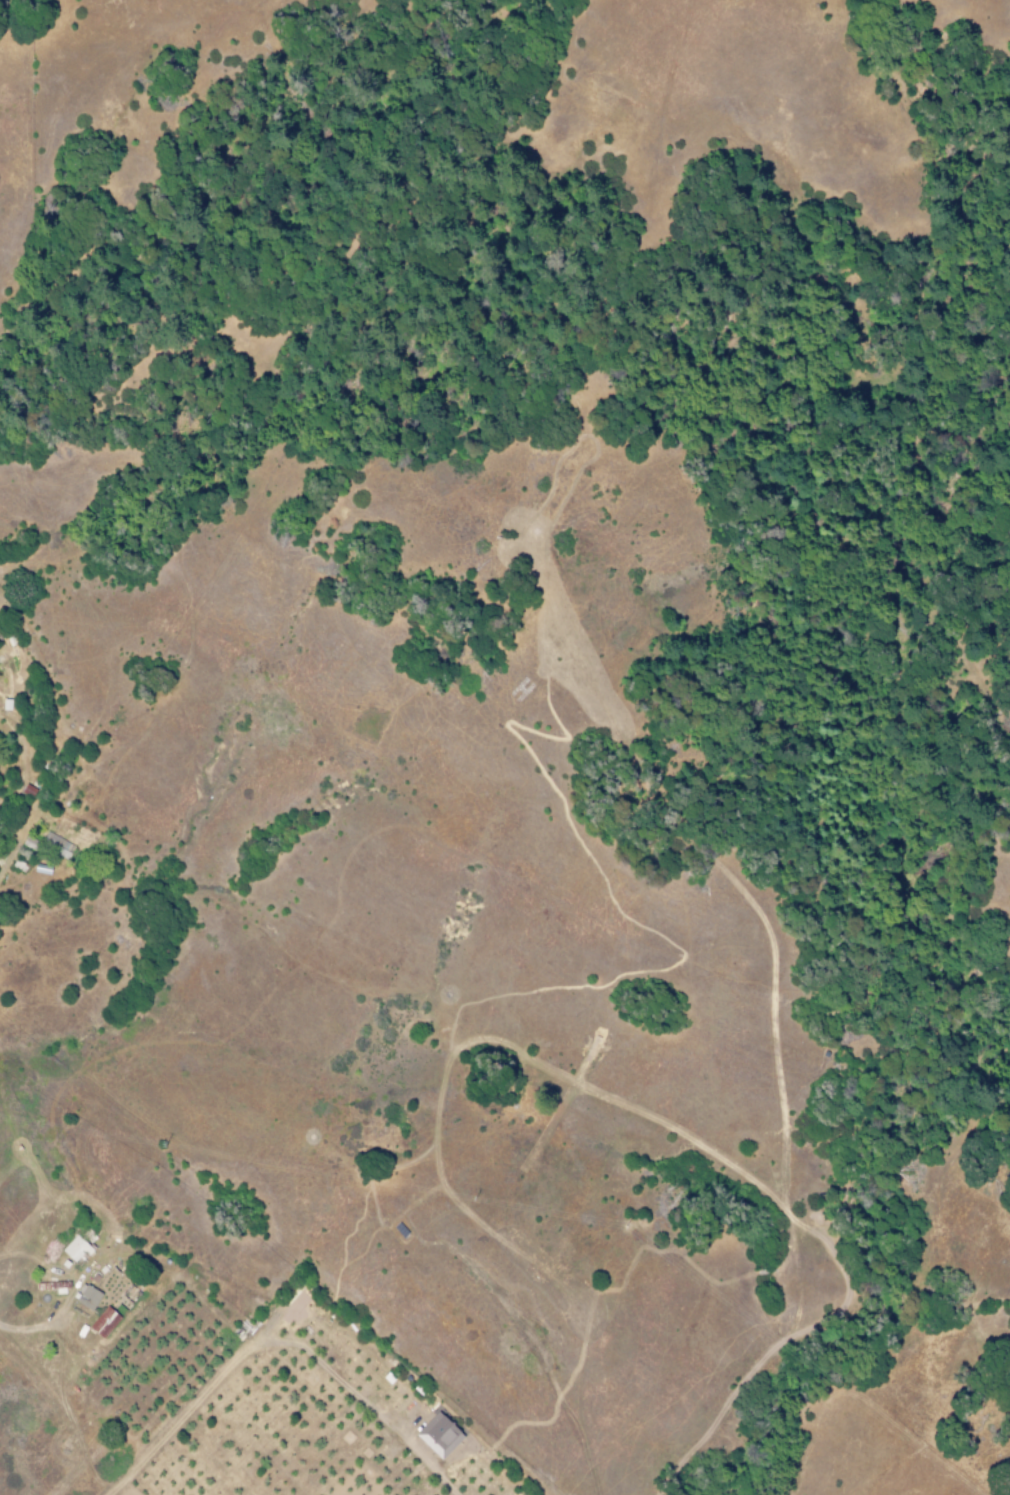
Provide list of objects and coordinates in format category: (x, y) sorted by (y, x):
building: (5, 705)
building: (56, 844)
building: (74, 1249)
building: (57, 1288)
building: (86, 1297)
building: (102, 1323)
building: (437, 1436)

